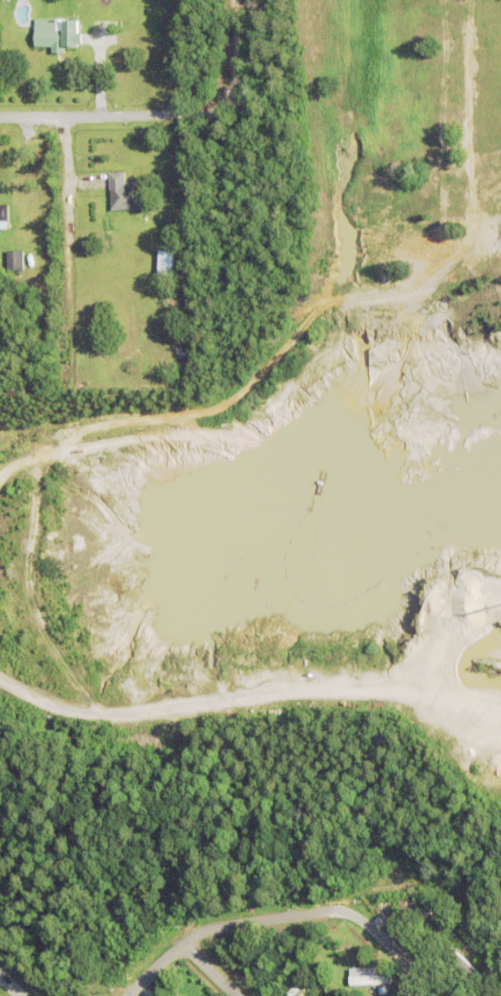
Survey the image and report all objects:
building: (59, 35)
road: (220, 102)
road: (58, 114)
building: (126, 194)
building: (5, 214)
building: (16, 262)
building: (167, 265)
building: (150, 273)
building: (179, 345)
building: (402, 888)
building: (414, 911)
road: (288, 916)
building: (460, 961)
road: (210, 970)
building: (367, 976)
building: (313, 984)
road: (11, 985)
building: (382, 989)
building: (180, 995)

